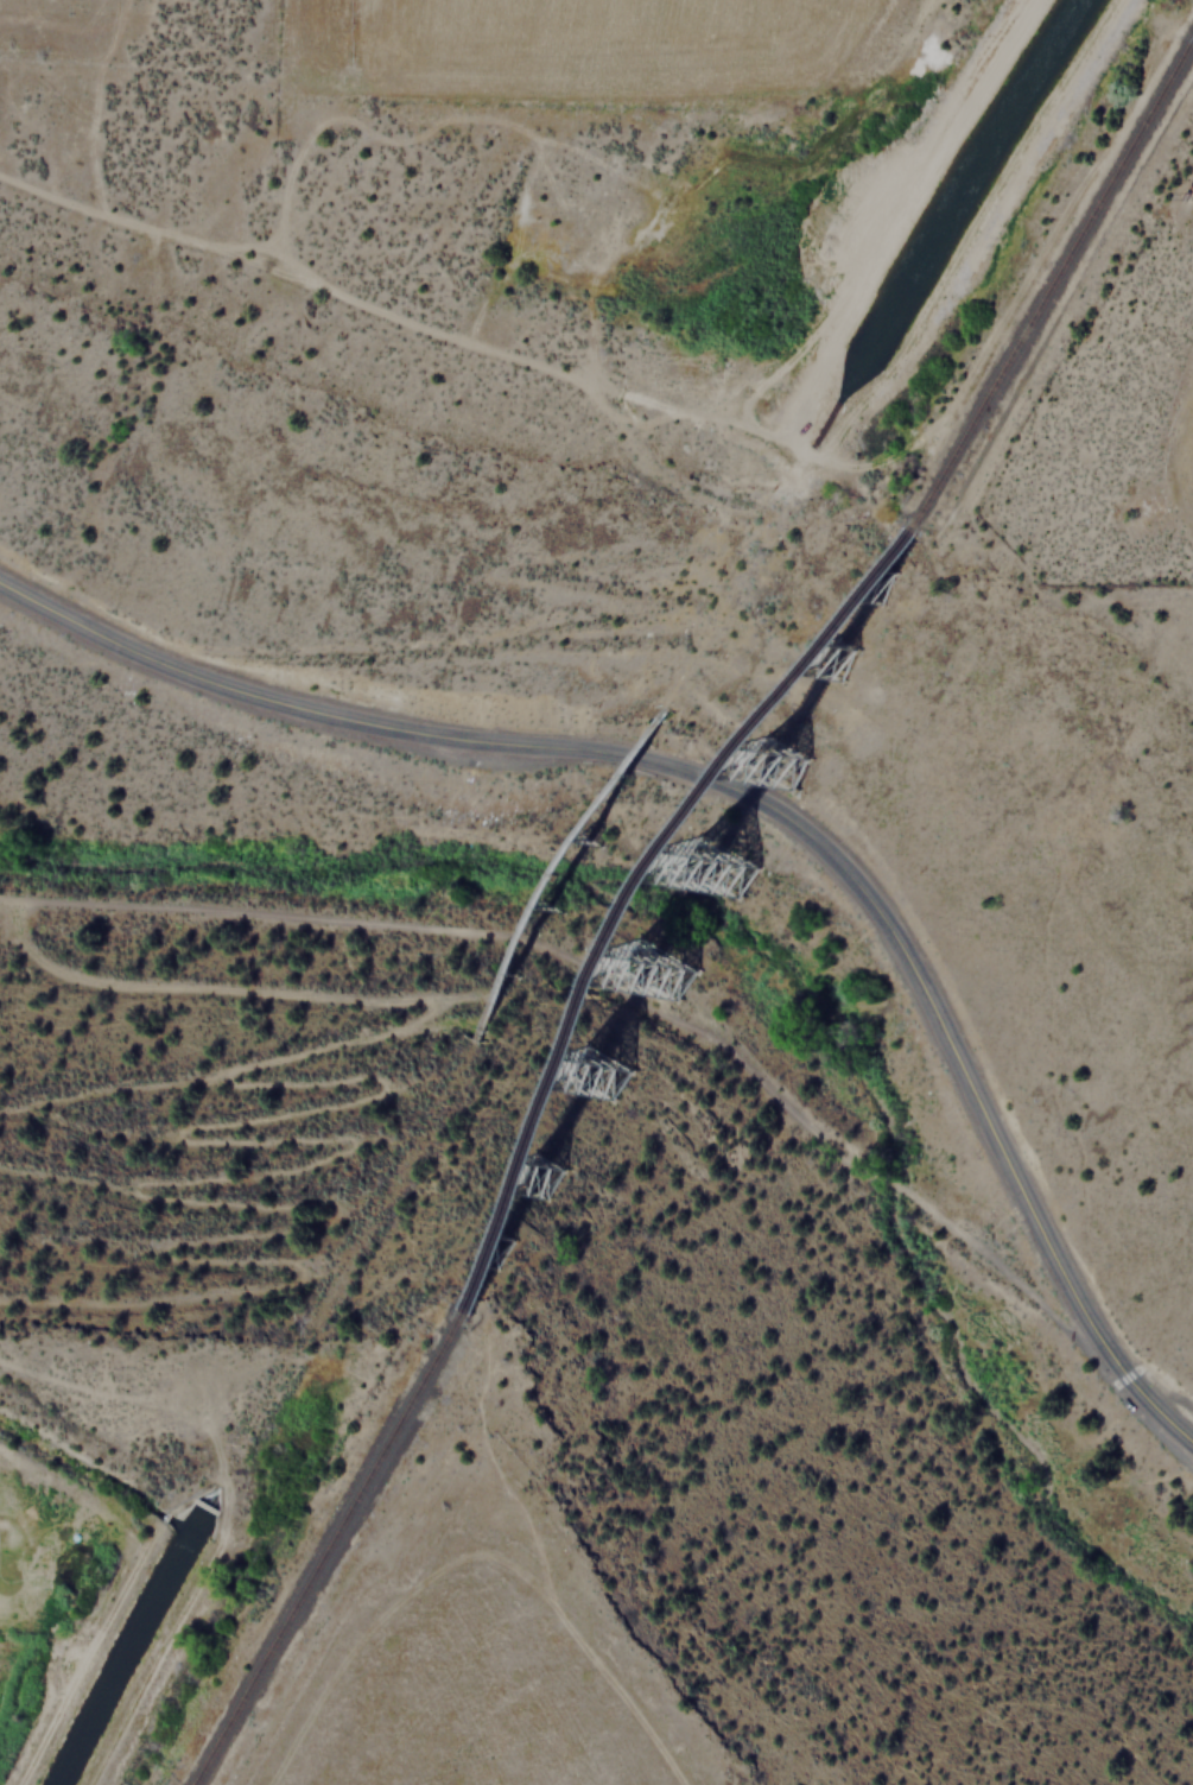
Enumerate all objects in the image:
railway: (1058, 274)
road: (753, 796)
railway: (690, 913)
road: (628, 987)
road: (265, 1142)
road: (1157, 1385)
road: (224, 1509)
railway: (323, 1550)

